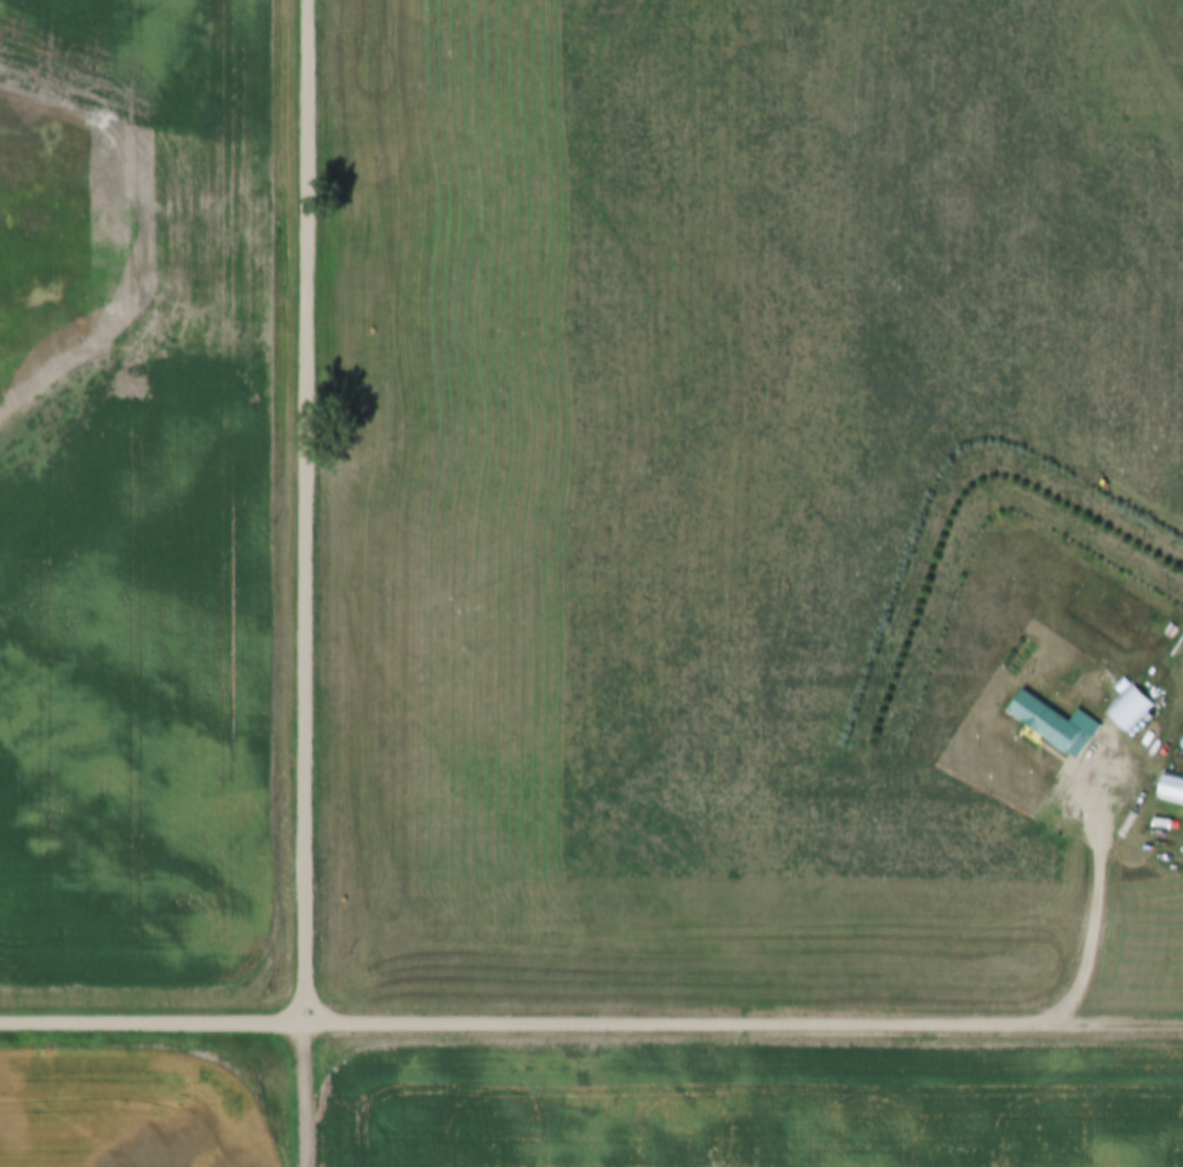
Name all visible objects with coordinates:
road: (308, 510)
building: (1132, 708)
building: (1052, 724)
road: (154, 1019)
road: (682, 1024)
road: (1119, 1028)
road: (308, 1093)

